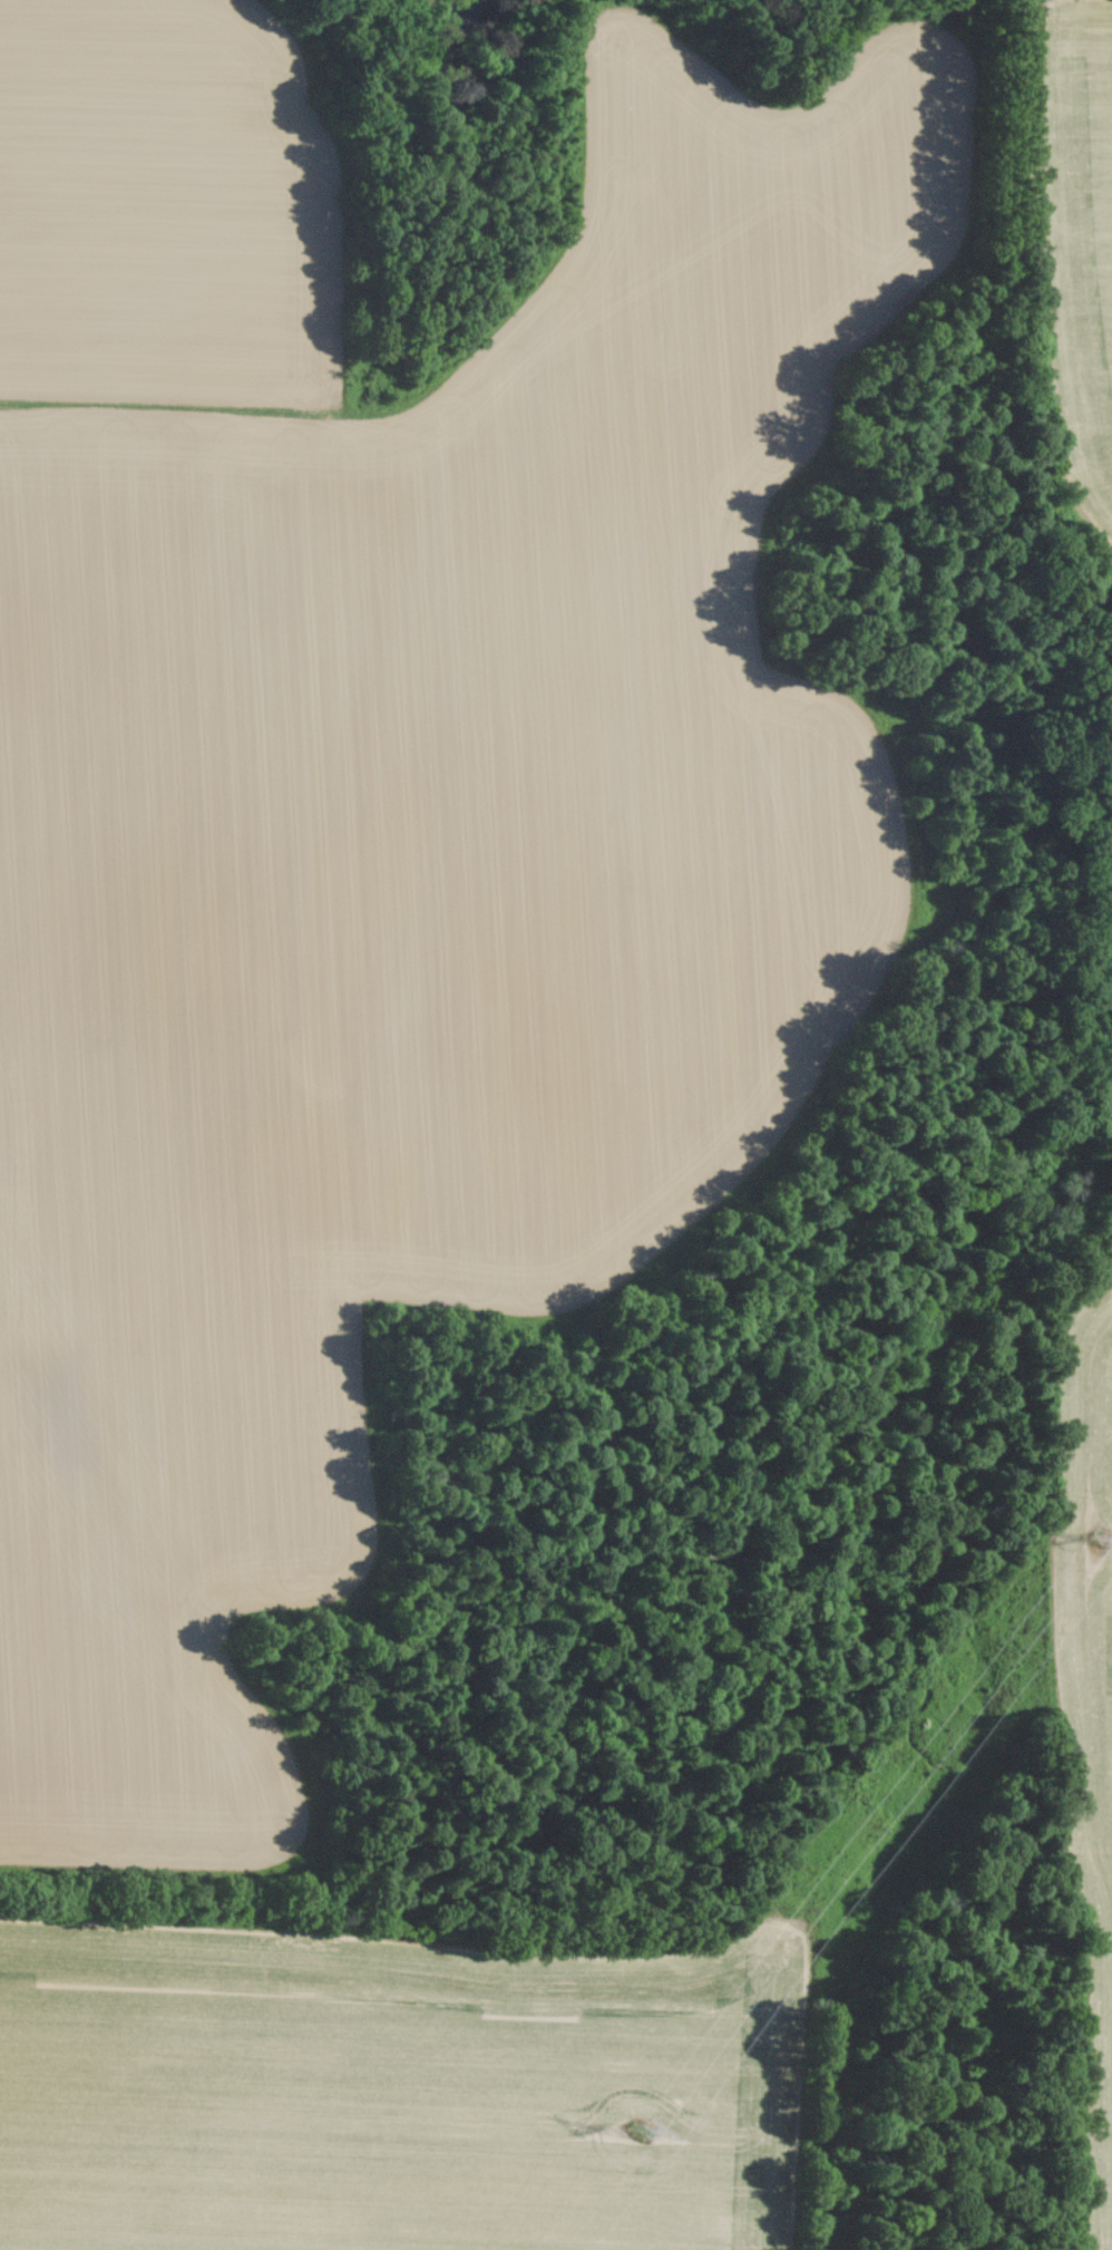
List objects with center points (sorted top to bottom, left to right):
power tower: (1098, 1541)
power tower: (637, 2131)

